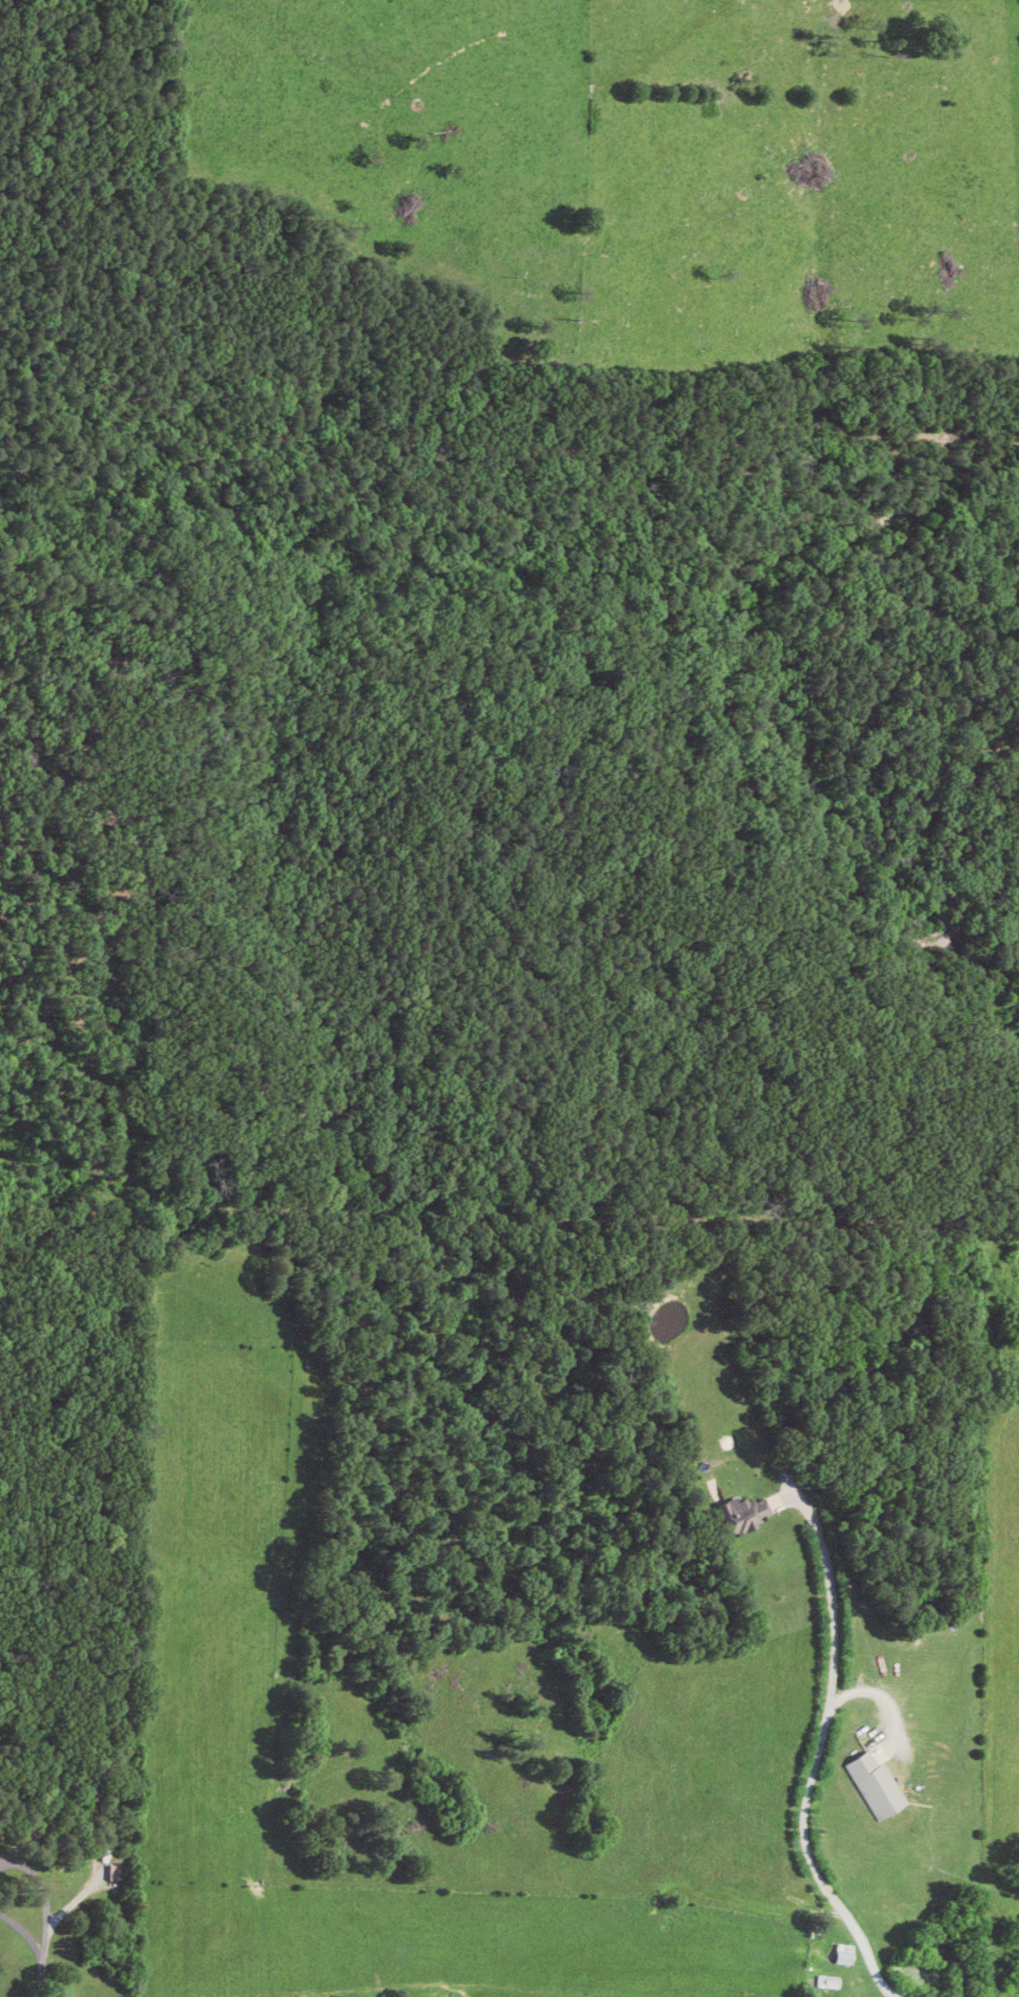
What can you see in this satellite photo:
road: (796, 1485)
building: (747, 1513)
building: (882, 1785)
road: (804, 1824)
building: (106, 1872)
building: (120, 1872)
road: (46, 1926)
building: (850, 1952)
road: (38, 1977)
building: (834, 1980)

